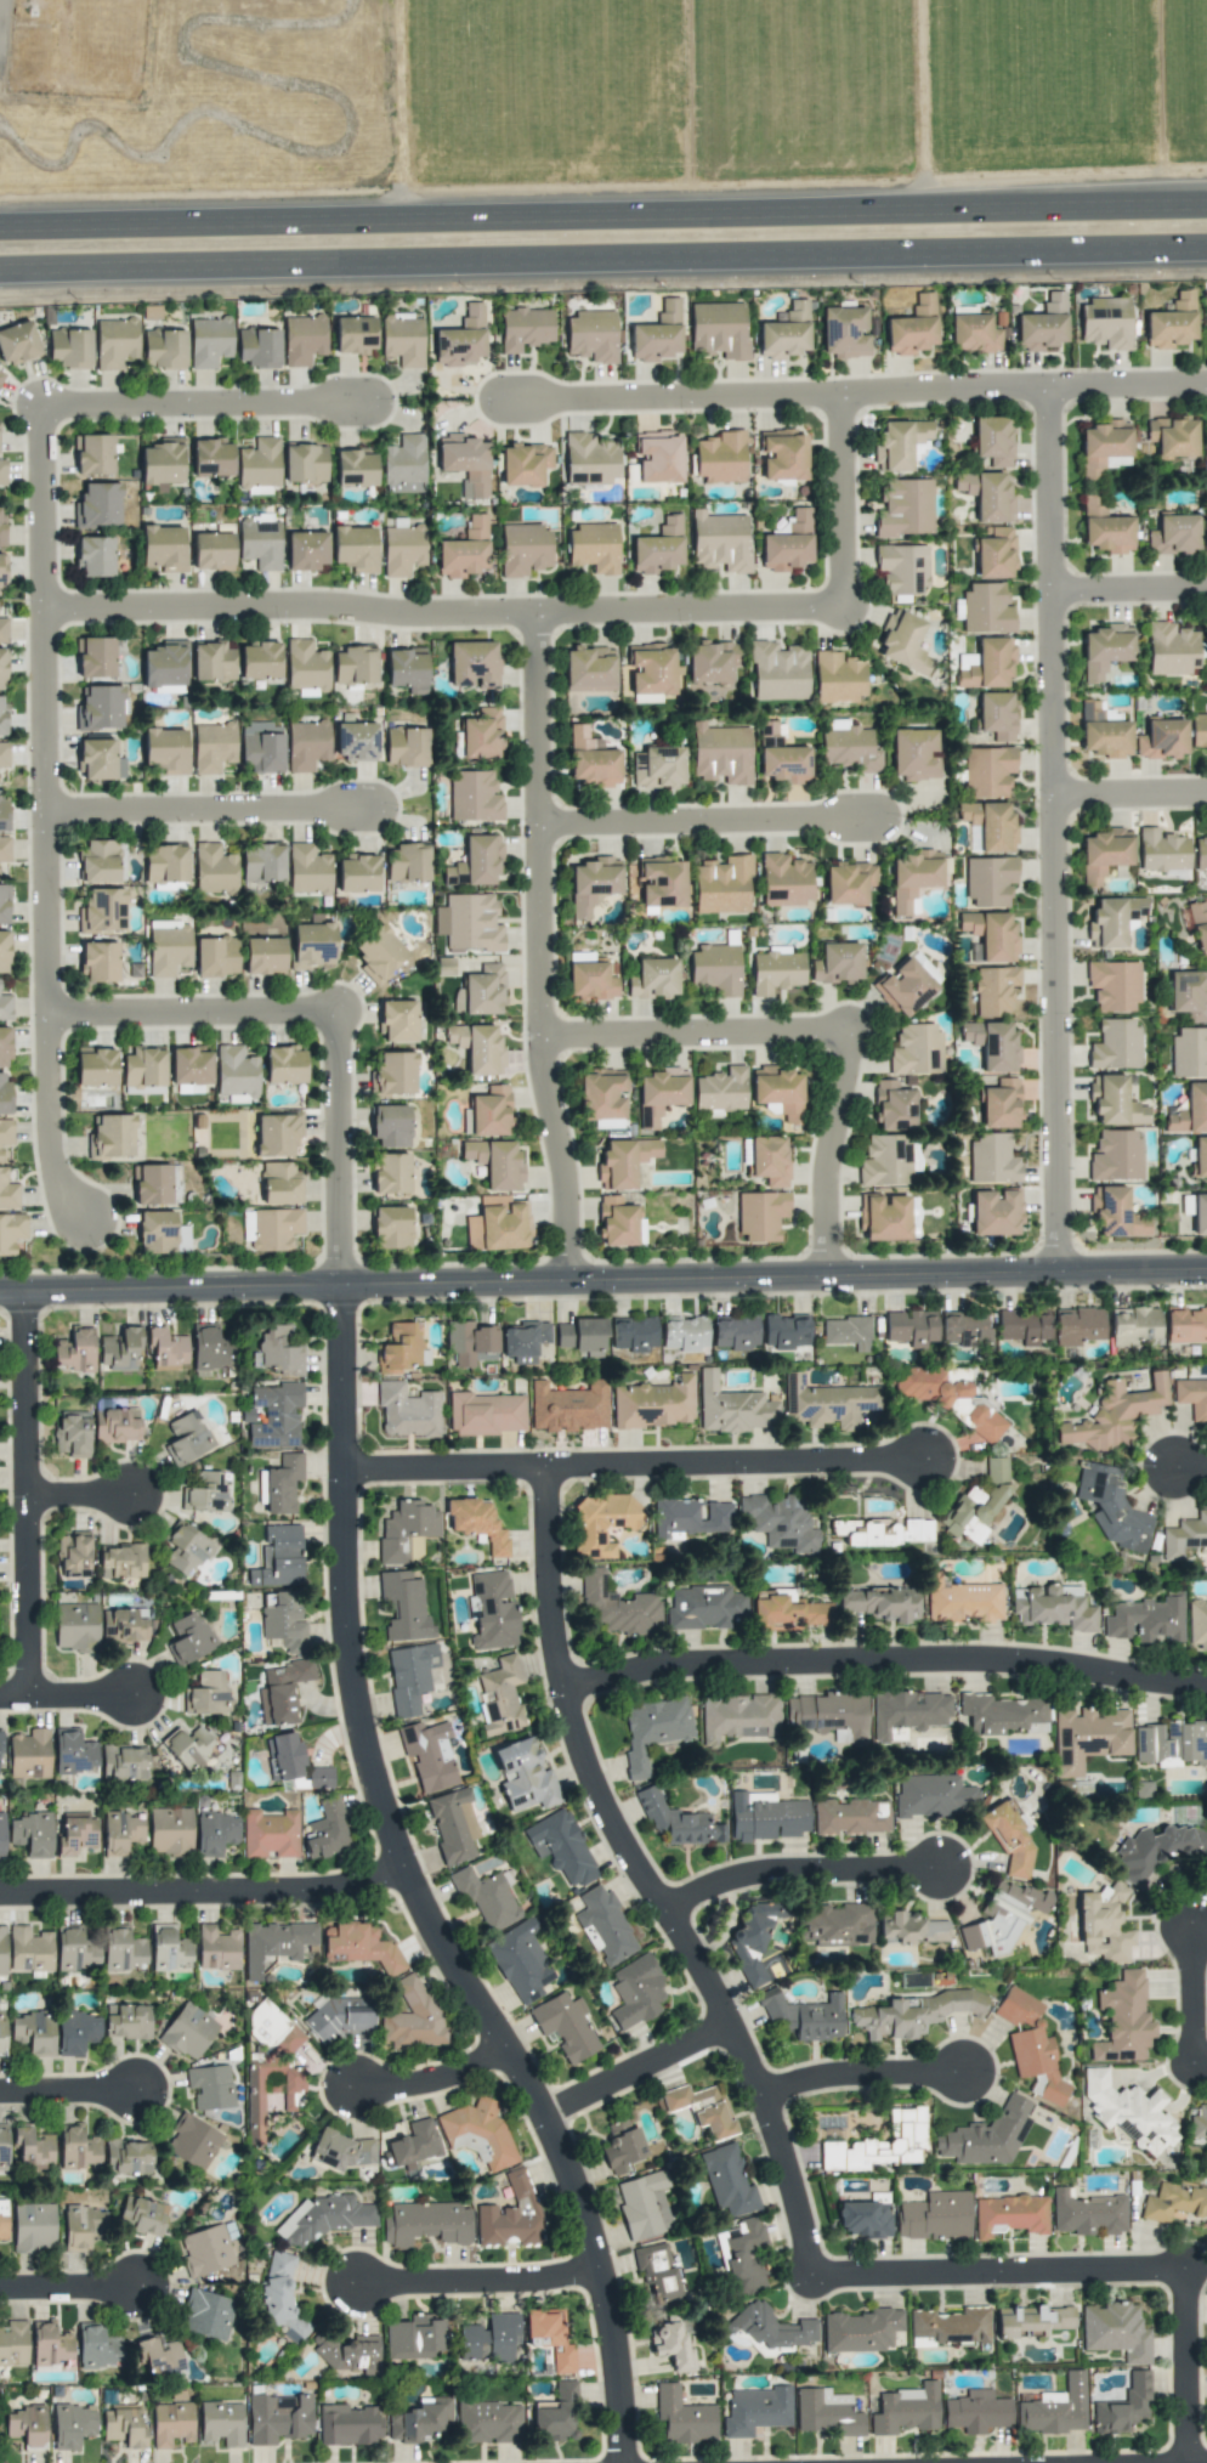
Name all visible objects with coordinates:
crop: (793, 123)
road: (602, 219)
road: (603, 254)
building: (1105, 323)
building: (1172, 323)
building: (1043, 325)
building: (912, 327)
building: (525, 328)
building: (718, 330)
building: (844, 332)
building: (783, 333)
building: (973, 333)
building: (353, 334)
building: (657, 334)
building: (591, 335)
building: (304, 339)
building: (402, 339)
building: (460, 339)
building: (209, 341)
building: (17, 342)
building: (115, 342)
building: (69, 347)
building: (257, 347)
building: (164, 349)
building: (0, 375)
road: (1129, 387)
road: (778, 396)
road: (211, 410)
building: (1172, 436)
building: (992, 440)
building: (899, 443)
building: (1104, 447)
building: (92, 454)
building: (782, 454)
building: (657, 457)
building: (720, 457)
building: (211, 458)
building: (590, 458)
building: (464, 462)
building: (160, 463)
building: (305, 463)
building: (403, 464)
building: (523, 464)
building: (259, 465)
building: (355, 468)
building: (2, 471)
building: (986, 494)
road: (845, 502)
building: (97, 505)
building: (905, 509)
building: (1, 527)
building: (1104, 528)
building: (1174, 534)
building: (719, 542)
building: (260, 543)
building: (787, 544)
building: (594, 547)
building: (163, 548)
building: (355, 548)
building: (658, 548)
building: (402, 549)
building: (523, 549)
building: (212, 550)
building: (306, 550)
building: (464, 550)
building: (994, 554)
building: (93, 556)
building: (902, 567)
building: (2, 568)
road: (1130, 591)
building: (986, 608)
road: (447, 616)
building: (2, 630)
building: (902, 641)
building: (1169, 649)
building: (1104, 650)
building: (95, 657)
building: (260, 661)
building: (710, 661)
building: (212, 662)
building: (986, 663)
building: (164, 664)
building: (474, 664)
building: (355, 666)
building: (306, 668)
building: (2, 669)
building: (407, 669)
building: (589, 669)
building: (651, 669)
building: (777, 672)
building: (837, 676)
building: (100, 708)
building: (996, 714)
building: (2, 715)
building: (1198, 730)
building: (1103, 731)
building: (481, 734)
building: (1161, 738)
building: (356, 741)
building: (307, 744)
building: (406, 746)
building: (212, 747)
building: (261, 747)
building: (848, 747)
building: (165, 749)
building: (721, 753)
building: (4, 754)
building: (914, 754)
building: (591, 759)
building: (100, 760)
building: (784, 764)
building: (657, 768)
building: (987, 771)
road: (1132, 795)
building: (474, 797)
building: (2, 810)
road: (215, 815)
road: (51, 822)
road: (710, 822)
building: (990, 825)
road: (1056, 831)
building: (4, 849)
building: (1162, 850)
building: (1104, 853)
building: (1200, 853)
building: (98, 861)
building: (475, 861)
building: (262, 862)
building: (407, 862)
building: (164, 865)
building: (214, 870)
building: (307, 870)
building: (357, 873)
building: (913, 877)
building: (784, 879)
building: (988, 881)
building: (662, 882)
building: (848, 882)
building: (593, 883)
building: (721, 884)
building: (4, 904)
building: (102, 911)
building: (1110, 921)
building: (469, 923)
building: (1198, 924)
building: (991, 934)
building: (312, 945)
building: (168, 947)
building: (5, 951)
road: (543, 951)
building: (379, 953)
building: (263, 955)
building: (215, 956)
building: (583, 957)
building: (98, 962)
building: (837, 963)
building: (924, 966)
building: (714, 969)
building: (776, 972)
building: (653, 979)
building: (590, 981)
building: (1113, 985)
building: (903, 987)
building: (994, 990)
building: (480, 991)
building: (1189, 995)
building: (5, 1007)
road: (198, 1019)
building: (397, 1020)
road: (699, 1035)
building: (993, 1044)
building: (1115, 1044)
building: (5, 1047)
building: (477, 1047)
building: (916, 1049)
building: (1189, 1053)
building: (95, 1065)
building: (189, 1065)
building: (284, 1065)
building: (143, 1069)
building: (393, 1074)
building: (236, 1075)
building: (720, 1089)
building: (778, 1092)
building: (5, 1093)
building: (601, 1093)
building: (661, 1093)
building: (1113, 1102)
building: (1001, 1104)
building: (892, 1106)
building: (1190, 1110)
building: (487, 1112)
building: (391, 1126)
building: (277, 1134)
building: (5, 1137)
building: (110, 1137)
road: (834, 1155)
building: (1115, 1155)
building: (1198, 1156)
building: (992, 1159)
building: (769, 1160)
building: (624, 1161)
building: (884, 1161)
building: (495, 1163)
building: (391, 1173)
building: (279, 1183)
building: (152, 1184)
building: (7, 1191)
building: (996, 1211)
building: (1116, 1213)
building: (1200, 1213)
building: (760, 1216)
building: (884, 1217)
building: (619, 1223)
building: (497, 1224)
building: (391, 1227)
building: (271, 1228)
building: (11, 1231)
building: (161, 1233)
road: (603, 1285)
building: (1078, 1325)
building: (1135, 1325)
building: (1186, 1325)
building: (1022, 1326)
building: (911, 1327)
building: (965, 1330)
building: (735, 1331)
building: (784, 1331)
building: (846, 1331)
building: (633, 1332)
building: (684, 1332)
building: (580, 1335)
building: (469, 1341)
building: (523, 1341)
building: (210, 1347)
building: (166, 1348)
building: (399, 1348)
building: (75, 1351)
building: (119, 1351)
building: (279, 1351)
building: (1191, 1397)
building: (948, 1399)
building: (653, 1404)
building: (829, 1404)
building: (568, 1406)
building: (732, 1406)
building: (407, 1410)
building: (486, 1414)
building: (273, 1415)
building: (1115, 1415)
building: (115, 1425)
building: (72, 1433)
building: (187, 1438)
road: (1197, 1462)
road: (642, 1465)
building: (282, 1483)
building: (260, 1487)
building: (206, 1493)
road: (29, 1494)
road: (81, 1494)
building: (1111, 1508)
building: (691, 1518)
building: (780, 1522)
building: (476, 1523)
building: (602, 1523)
building: (406, 1531)
building: (885, 1531)
building: (1184, 1536)
building: (186, 1550)
building: (73, 1555)
building: (278, 1557)
building: (121, 1561)
building: (962, 1601)
building: (880, 1603)
building: (404, 1606)
building: (619, 1607)
building: (704, 1607)
building: (1053, 1607)
building: (492, 1610)
building: (788, 1612)
building: (1146, 1619)
building: (283, 1621)
building: (1197, 1623)
building: (124, 1625)
building: (75, 1626)
building: (188, 1638)
road: (886, 1655)
building: (409, 1676)
building: (282, 1691)
building: (206, 1693)
road: (68, 1695)
building: (907, 1714)
building: (1002, 1714)
building: (829, 1715)
building: (737, 1717)
building: (653, 1729)
building: (1088, 1737)
building: (0, 1744)
building: (1172, 1744)
building: (188, 1746)
building: (73, 1751)
building: (29, 1754)
building: (429, 1754)
building: (283, 1756)
building: (124, 1762)
road: (378, 1765)
building: (523, 1776)
building: (319, 1777)
building: (934, 1795)
building: (766, 1816)
building: (850, 1817)
building: (678, 1821)
building: (453, 1825)
building: (170, 1830)
building: (327, 1830)
building: (120, 1833)
building: (215, 1833)
building: (32, 1834)
building: (75, 1834)
building: (270, 1834)
building: (1, 1836)
building: (1008, 1838)
building: (561, 1847)
building: (1157, 1850)
road: (809, 1870)
road: (654, 1880)
road: (206, 1881)
building: (487, 1899)
building: (1002, 1916)
building: (834, 1923)
building: (1104, 1924)
building: (605, 1926)
building: (912, 1927)
building: (753, 1940)
building: (276, 1943)
building: (359, 1946)
building: (74, 1947)
building: (169, 1948)
building: (217, 1948)
building: (29, 1949)
building: (121, 1950)
building: (2, 1952)
building: (520, 1961)
building: (636, 1992)
road: (1202, 1998)
building: (912, 2014)
building: (410, 2015)
building: (344, 2016)
building: (804, 2016)
building: (1122, 2020)
building: (126, 2021)
building: (565, 2026)
building: (33, 2032)
building: (76, 2032)
building: (188, 2032)
building: (1, 2033)
building: (1031, 2046)
building: (270, 2067)
road: (642, 2070)
road: (872, 2072)
road: (438, 2080)
building: (210, 2087)
road: (68, 2091)
building: (702, 2108)
building: (1128, 2112)
building: (1198, 2125)
building: (477, 2133)
building: (986, 2135)
building: (192, 2141)
building: (413, 2144)
building: (879, 2144)
building: (2, 2145)
building: (622, 2145)
building: (33, 2147)
building: (78, 2148)
building: (342, 2150)
building: (127, 2157)
building: (727, 2181)
building: (1173, 2201)
building: (644, 2204)
building: (1087, 2214)
building: (141, 2215)
building: (510, 2215)
building: (1009, 2215)
building: (935, 2216)
building: (324, 2218)
building: (2, 2219)
building: (863, 2219)
building: (424, 2223)
building: (33, 2227)
building: (81, 2227)
building: (205, 2250)
building: (743, 2255)
road: (484, 2272)
building: (658, 2272)
road: (1003, 2272)
road: (68, 2288)
building: (280, 2298)
building: (206, 2314)
building: (1031, 2320)
building: (951, 2325)
building: (769, 2328)
building: (861, 2329)
building: (1116, 2331)
building: (550, 2337)
building: (415, 2338)
building: (488, 2338)
building: (13, 2343)
building: (49, 2344)
building: (96, 2346)
building: (671, 2346)
building: (346, 2352)
building: (159, 2356)
road: (1184, 2366)
building: (1124, 2406)
building: (1055, 2407)
building: (755, 2410)
building: (906, 2410)
building: (826, 2412)
building: (976, 2412)
building: (556, 2414)
building: (682, 2417)
building: (278, 2418)
building: (420, 2420)
building: (489, 2422)
building: (171, 2423)
building: (221, 2423)
building: (72, 2424)
building: (347, 2424)
building: (25, 2425)
building: (124, 2427)

